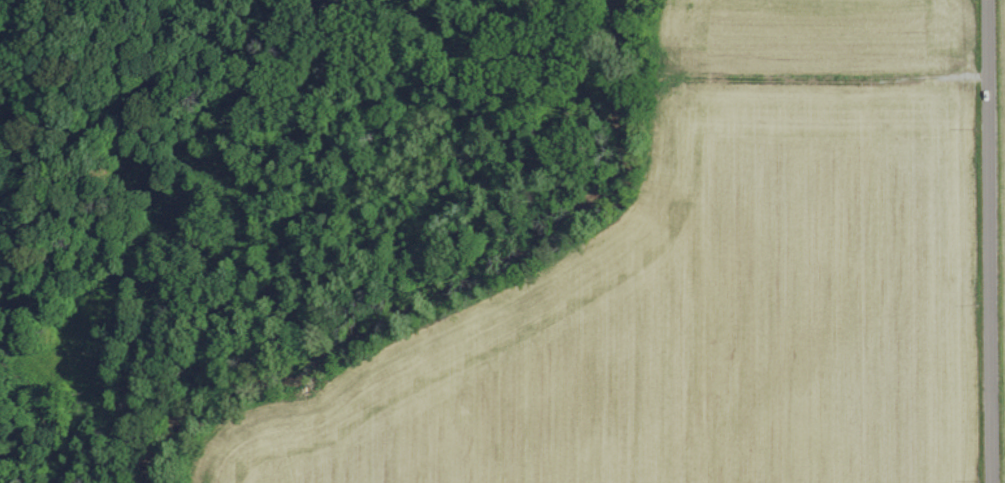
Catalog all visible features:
road: (988, 241)

